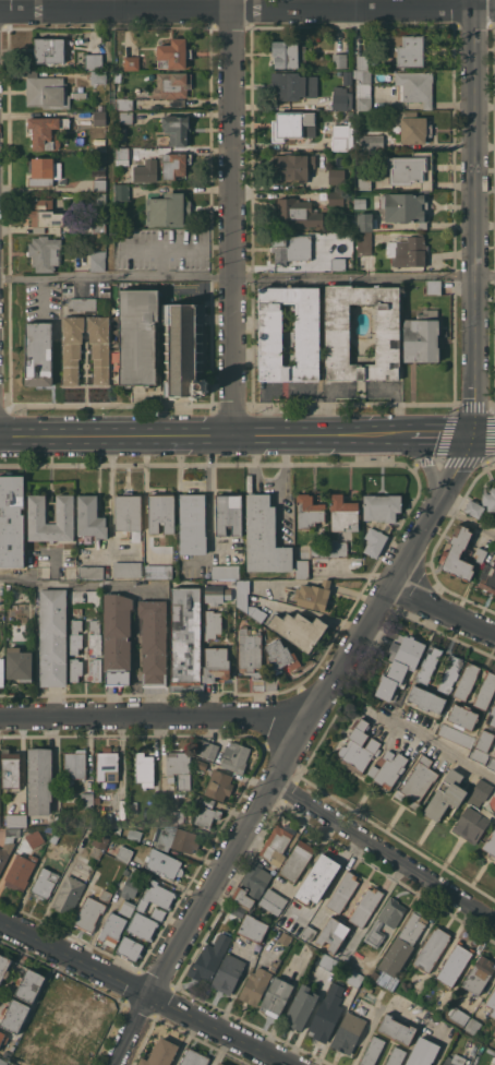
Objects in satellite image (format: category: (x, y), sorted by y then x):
road: (246, 10)
building: (408, 48)
building: (49, 49)
building: (173, 53)
building: (288, 53)
building: (93, 60)
building: (339, 60)
building: (132, 62)
building: (363, 62)
building: (98, 76)
building: (171, 85)
building: (293, 85)
building: (415, 86)
building: (364, 89)
building: (46, 92)
building: (79, 94)
building: (341, 98)
building: (98, 99)
building: (124, 104)
building: (99, 117)
building: (125, 117)
building: (292, 124)
building: (414, 128)
building: (177, 129)
building: (46, 132)
building: (341, 136)
building: (99, 140)
building: (371, 142)
building: (122, 156)
building: (174, 164)
building: (293, 167)
building: (411, 169)
building: (44, 170)
building: (336, 176)
building: (364, 182)
building: (99, 184)
building: (121, 192)
building: (100, 198)
building: (336, 198)
building: (360, 203)
building: (406, 206)
building: (167, 208)
building: (44, 213)
building: (294, 214)
road: (232, 219)
road: (474, 219)
building: (365, 220)
building: (92, 226)
building: (365, 244)
building: (290, 247)
building: (407, 250)
building: (45, 252)
building: (97, 260)
building: (337, 263)
road: (247, 277)
building: (114, 285)
building: (433, 287)
building: (104, 289)
building: (113, 292)
building: (77, 298)
building: (306, 333)
building: (387, 333)
building: (137, 336)
building: (421, 336)
building: (99, 347)
building: (72, 348)
building: (183, 349)
building: (38, 354)
road: (484, 438)
road: (440, 439)
traffic signals: (473, 439)
road: (204, 441)
road: (427, 467)
road: (110, 496)
building: (490, 499)
road: (209, 503)
building: (382, 506)
building: (473, 507)
building: (309, 511)
building: (63, 512)
building: (161, 512)
building: (229, 513)
building: (343, 513)
building: (129, 514)
road: (464, 517)
building: (90, 519)
building: (11, 520)
building: (192, 524)
building: (264, 536)
building: (374, 541)
building: (339, 548)
building: (319, 551)
road: (110, 552)
building: (457, 553)
building: (481, 554)
building: (302, 565)
building: (128, 569)
building: (158, 571)
building: (226, 571)
building: (92, 572)
building: (487, 577)
road: (79, 585)
building: (217, 594)
building: (312, 596)
building: (243, 599)
road: (439, 611)
building: (213, 624)
building: (299, 629)
building: (186, 635)
building: (75, 636)
building: (95, 636)
building: (52, 637)
building: (118, 638)
building: (154, 641)
building: (250, 649)
building: (281, 657)
building: (217, 663)
building: (19, 665)
building: (399, 665)
building: (428, 665)
building: (75, 669)
building: (96, 669)
building: (1, 671)
building: (450, 673)
building: (467, 681)
building: (264, 684)
building: (485, 691)
building: (426, 699)
road: (150, 713)
building: (462, 716)
building: (492, 718)
building: (456, 735)
building: (484, 741)
road: (289, 747)
building: (359, 747)
road: (443, 752)
building: (494, 753)
building: (226, 754)
building: (494, 755)
building: (478, 756)
road: (55, 762)
building: (107, 764)
building: (201, 764)
building: (492, 764)
building: (74, 767)
building: (179, 768)
building: (11, 769)
building: (144, 769)
building: (388, 769)
building: (39, 780)
building: (418, 781)
building: (219, 785)
building: (479, 792)
building: (446, 794)
building: (87, 800)
building: (96, 800)
building: (207, 801)
building: (171, 816)
building: (206, 816)
building: (155, 818)
building: (16, 819)
building: (130, 823)
building: (471, 824)
building: (118, 830)
building: (134, 834)
building: (155, 834)
building: (87, 835)
building: (56, 836)
building: (185, 840)
building: (99, 842)
building: (276, 842)
building: (491, 843)
building: (8, 845)
building: (124, 853)
road: (382, 853)
building: (494, 859)
building: (297, 860)
building: (164, 864)
building: (20, 872)
building: (256, 879)
building: (317, 879)
building: (45, 882)
building: (131, 885)
building: (342, 892)
building: (69, 894)
building: (106, 895)
building: (156, 896)
building: (243, 898)
building: (273, 901)
building: (126, 907)
building: (365, 907)
building: (158, 912)
building: (237, 912)
building: (89, 913)
building: (385, 921)
building: (291, 922)
building: (143, 925)
building: (112, 929)
building: (253, 929)
building: (309, 932)
building: (333, 933)
building: (285, 938)
building: (403, 944)
building: (130, 949)
building: (432, 949)
building: (207, 961)
building: (328, 962)
building: (454, 964)
building: (4, 967)
building: (228, 973)
building: (479, 974)
building: (354, 979)
building: (29, 985)
building: (255, 985)
building: (364, 990)
road: (138, 994)
building: (276, 997)
building: (492, 1003)
building: (301, 1006)
building: (52, 1014)
building: (14, 1016)
building: (459, 1016)
building: (325, 1020)
building: (473, 1025)
building: (397, 1029)
building: (87, 1031)
building: (348, 1033)
building: (494, 1033)
building: (3, 1038)
building: (372, 1051)
building: (423, 1052)
building: (161, 1053)
building: (396, 1056)
building: (24, 1058)
building: (193, 1058)
building: (454, 1060)
building: (493, 1060)
building: (3, 1062)
building: (68, 1063)
building: (10, 1064)
building: (12, 1064)
building: (220, 1064)

